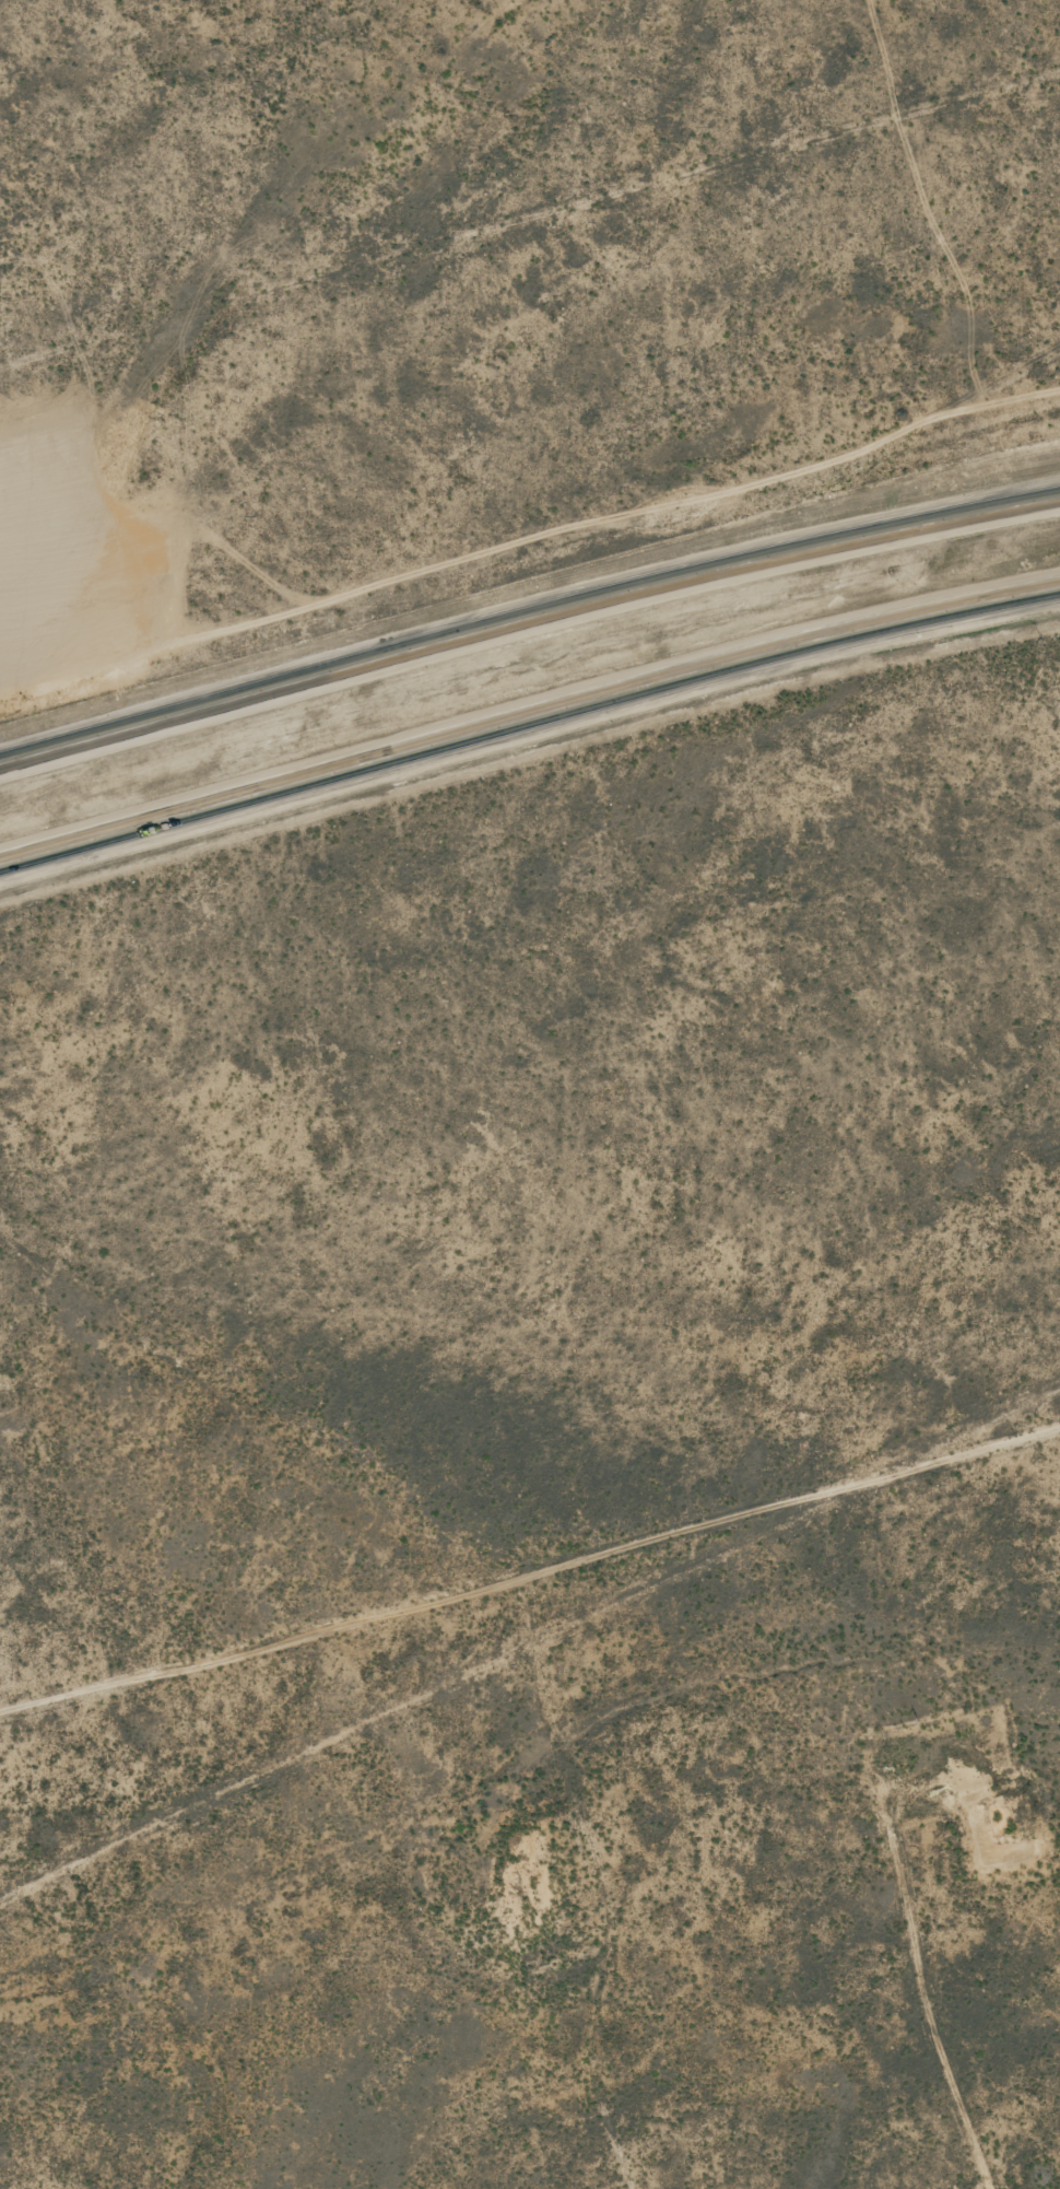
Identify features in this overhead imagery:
road: (530, 251)
road: (527, 620)
road: (528, 717)
road: (530, 1635)

